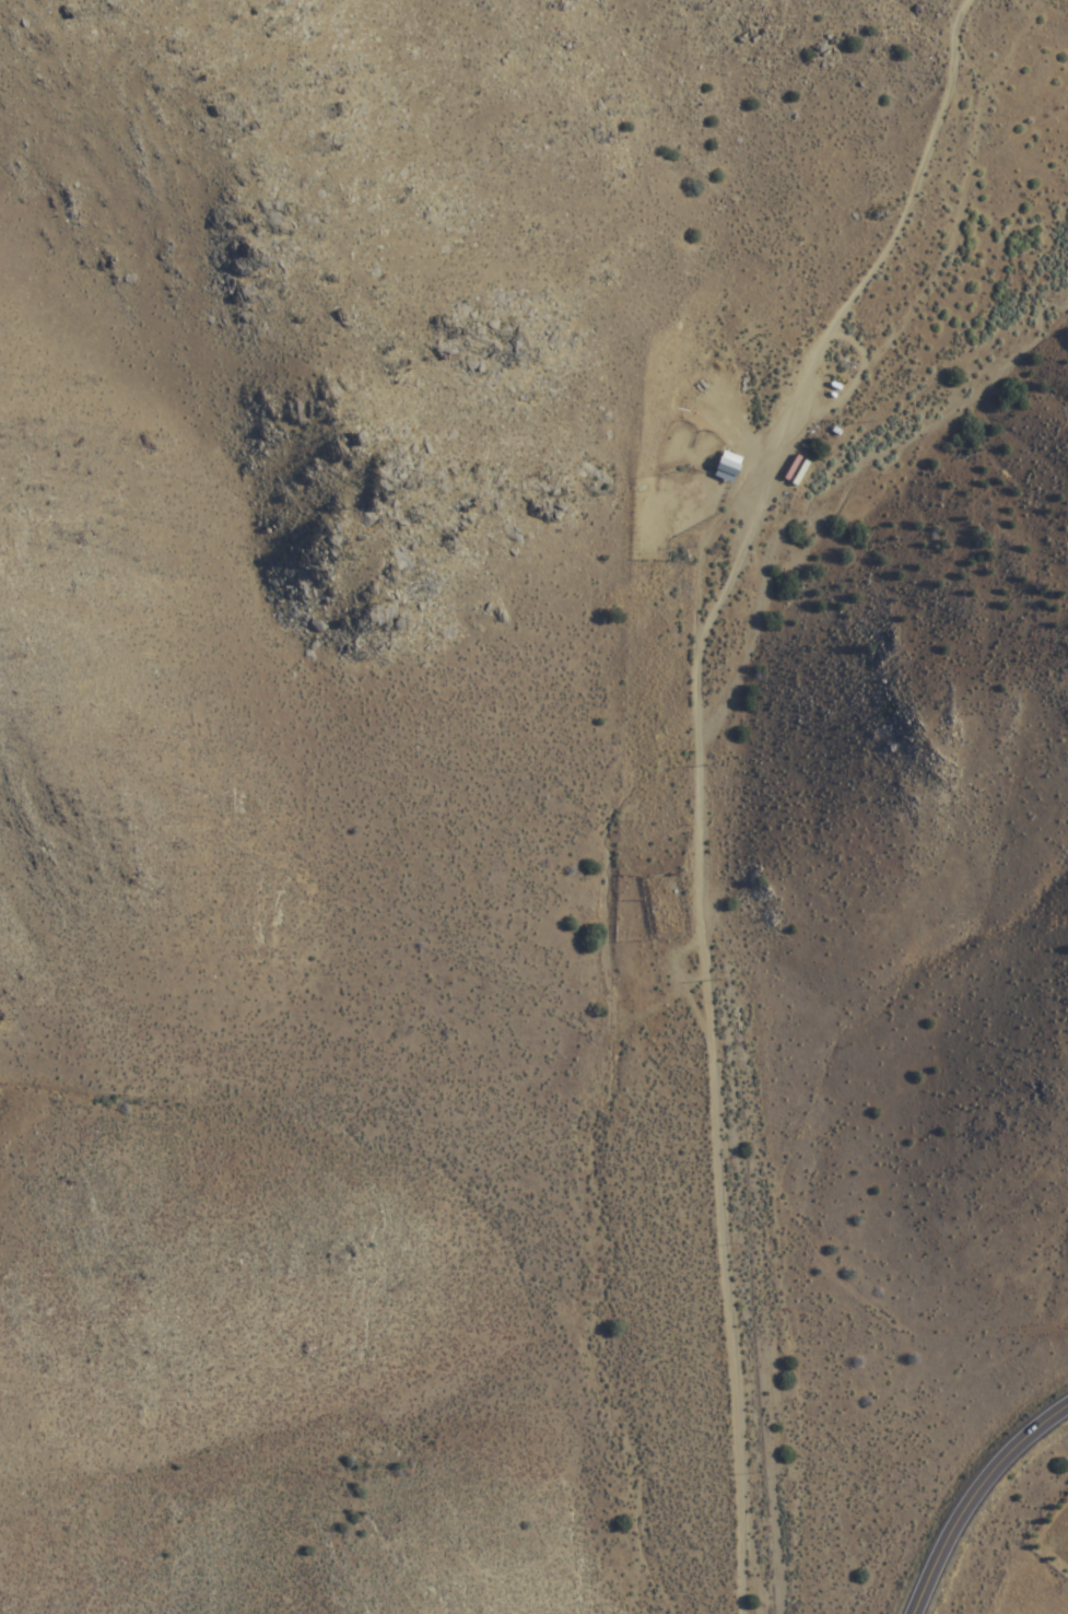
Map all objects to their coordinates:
building: (725, 467)
road: (703, 741)
road: (976, 1500)

